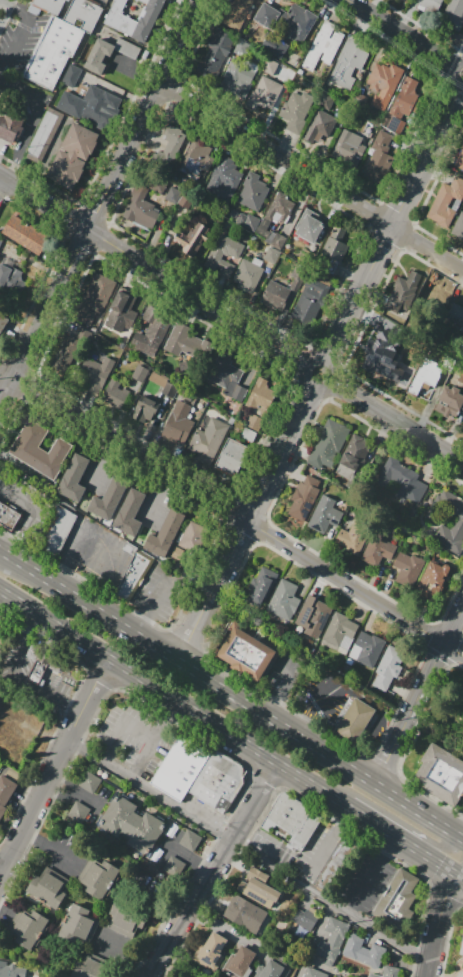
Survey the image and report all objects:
building: (142, 1)
road: (7, 2)
parking lot: (99, 2)
building: (427, 7)
building: (71, 12)
building: (238, 13)
building: (267, 15)
building: (118, 17)
building: (451, 17)
building: (145, 19)
building: (297, 21)
road: (20, 36)
road: (406, 36)
building: (323, 46)
building: (274, 47)
building: (242, 48)
building: (127, 49)
building: (214, 51)
building: (52, 54)
building: (97, 57)
building: (349, 65)
building: (269, 68)
building: (70, 76)
building: (239, 80)
building: (383, 84)
building: (1, 91)
building: (264, 94)
building: (403, 97)
building: (97, 105)
road: (39, 110)
building: (297, 110)
building: (391, 121)
building: (9, 123)
building: (320, 125)
building: (44, 134)
building: (171, 145)
road: (9, 148)
building: (346, 150)
building: (74, 155)
building: (196, 158)
building: (378, 159)
building: (460, 161)
road: (9, 172)
road: (312, 178)
building: (223, 179)
road: (110, 191)
building: (253, 193)
building: (173, 194)
building: (185, 199)
building: (143, 202)
building: (445, 204)
building: (277, 206)
building: (245, 220)
building: (458, 227)
building: (308, 231)
building: (26, 235)
building: (191, 239)
building: (1, 240)
building: (222, 250)
building: (330, 255)
building: (247, 275)
building: (11, 278)
building: (402, 291)
building: (276, 297)
building: (93, 298)
building: (308, 304)
road: (348, 313)
building: (119, 316)
building: (455, 317)
road: (231, 320)
building: (4, 322)
building: (154, 324)
building: (186, 342)
building: (67, 349)
building: (384, 360)
building: (94, 373)
building: (139, 375)
building: (226, 375)
road: (9, 376)
building: (426, 378)
building: (158, 379)
building: (170, 389)
building: (115, 394)
building: (258, 394)
road: (9, 398)
building: (450, 402)
road: (1, 411)
building: (143, 414)
building: (178, 423)
building: (209, 437)
building: (326, 447)
building: (39, 450)
building: (231, 455)
building: (353, 456)
building: (73, 481)
building: (403, 482)
building: (303, 499)
building: (109, 500)
road: (33, 504)
building: (128, 515)
building: (324, 516)
building: (8, 518)
road: (240, 520)
building: (458, 522)
building: (56, 532)
building: (192, 535)
building: (165, 536)
building: (353, 539)
road: (12, 545)
building: (377, 550)
road: (240, 554)
building: (408, 566)
road: (232, 568)
road: (43, 576)
building: (133, 576)
building: (432, 581)
building: (261, 587)
building: (283, 601)
road: (17, 608)
road: (106, 615)
building: (313, 619)
road: (205, 620)
road: (32, 626)
road: (44, 626)
building: (340, 633)
parking lot: (0, 640)
road: (79, 648)
building: (366, 650)
road: (20, 651)
building: (246, 652)
building: (44, 662)
road: (184, 664)
building: (388, 666)
road: (39, 688)
road: (417, 694)
road: (164, 699)
road: (85, 702)
park: (445, 704)
road: (251, 706)
road: (74, 709)
building: (353, 721)
road: (90, 724)
road: (283, 726)
road: (120, 729)
road: (228, 739)
road: (150, 742)
road: (72, 744)
road: (262, 759)
road: (339, 761)
building: (181, 767)
building: (440, 774)
building: (218, 781)
building: (89, 783)
road: (71, 790)
road: (309, 790)
building: (5, 793)
road: (152, 794)
road: (304, 794)
road: (33, 805)
road: (252, 805)
road: (417, 810)
building: (77, 811)
road: (397, 819)
building: (294, 820)
building: (132, 823)
road: (461, 834)
building: (189, 839)
road: (49, 845)
road: (396, 845)
road: (321, 848)
building: (339, 864)
building: (173, 865)
road: (0, 868)
road: (191, 873)
road: (457, 874)
road: (369, 878)
building: (100, 879)
building: (47, 888)
building: (257, 888)
building: (400, 900)
road: (329, 903)
road: (186, 909)
building: (245, 913)
building: (303, 922)
building: (100, 928)
road: (441, 928)
building: (29, 929)
road: (449, 929)
road: (223, 930)
building: (332, 939)
building: (461, 946)
building: (211, 950)
building: (364, 952)
building: (242, 960)
building: (273, 967)
building: (91, 969)
building: (11, 970)
building: (387, 971)
building: (314, 972)

